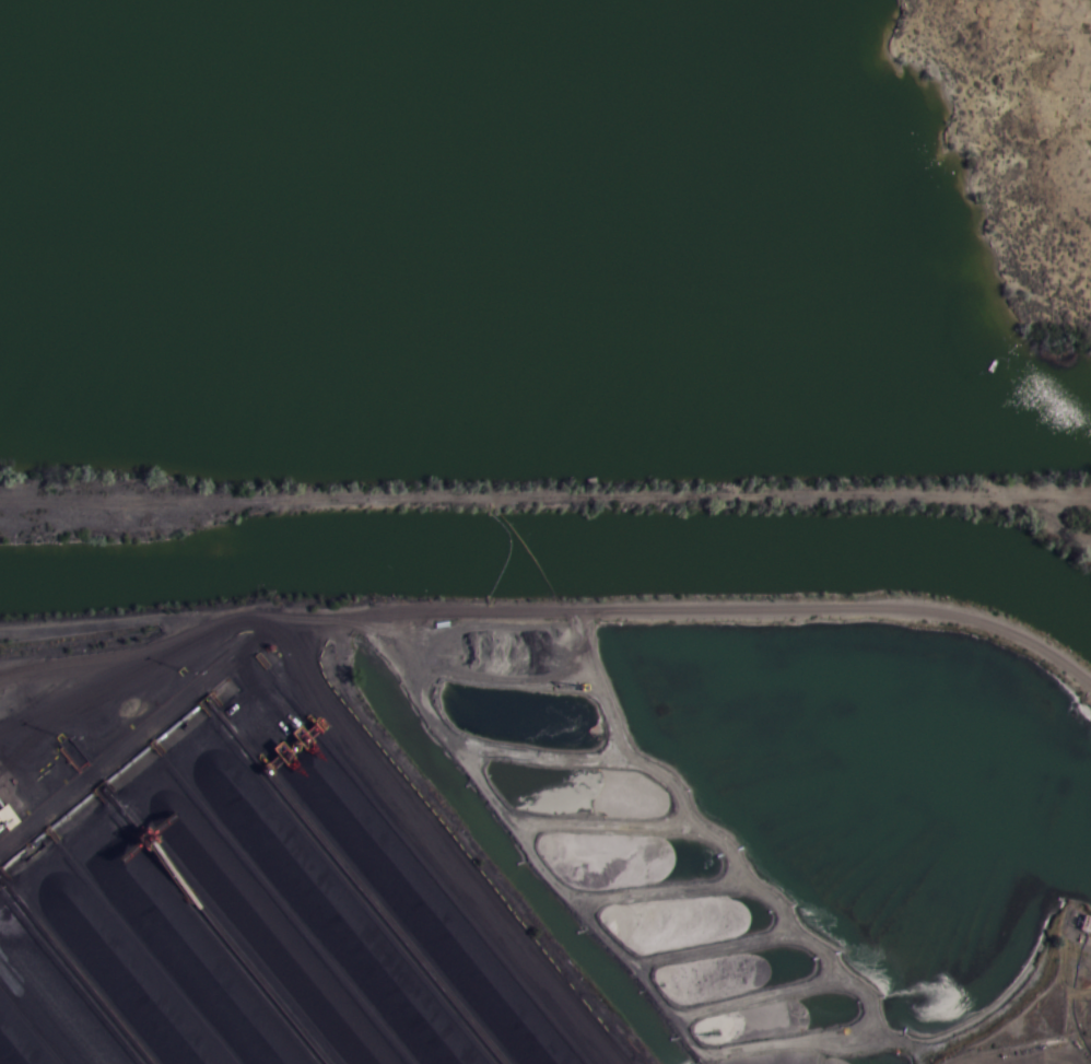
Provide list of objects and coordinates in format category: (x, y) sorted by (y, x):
power plant: (207, 893)

